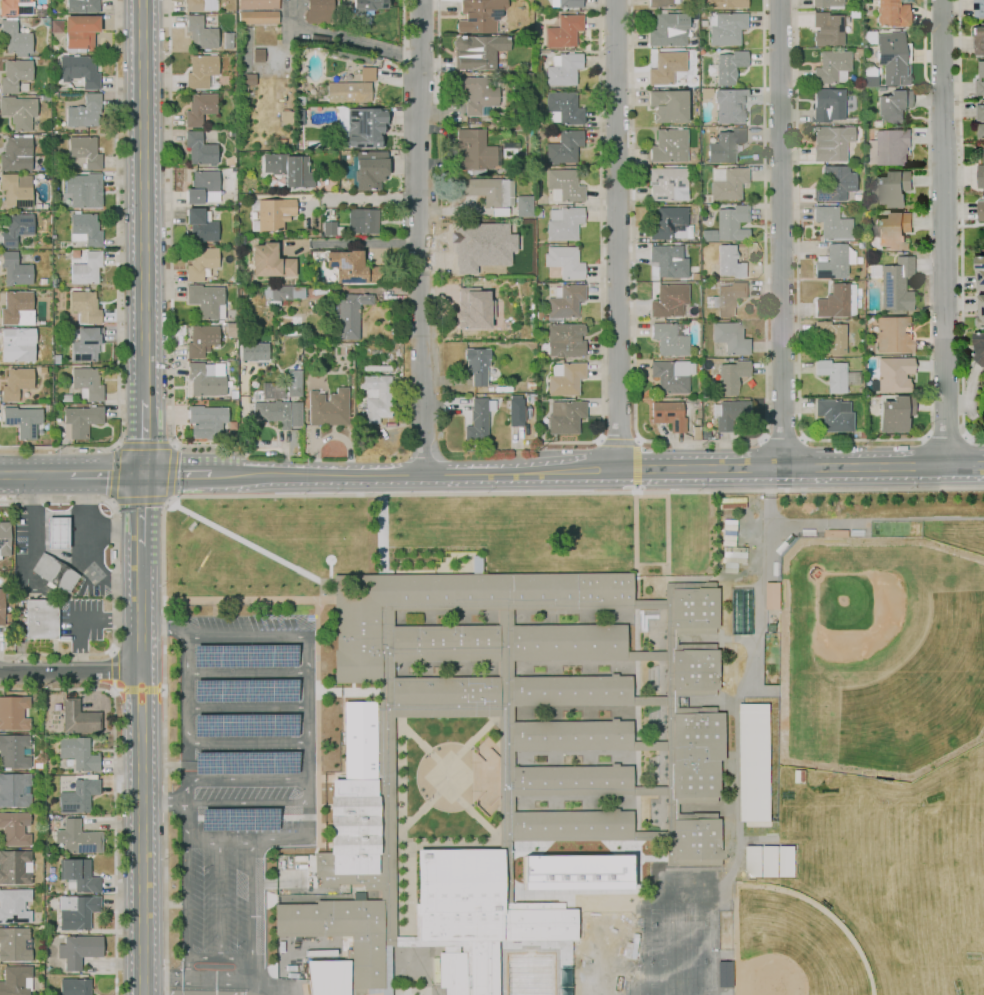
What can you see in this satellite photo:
building: (565, 3)
building: (659, 3)
building: (828, 3)
building: (726, 4)
building: (200, 5)
building: (367, 5)
building: (82, 6)
building: (15, 7)
building: (978, 8)
building: (318, 11)
building: (257, 12)
building: (40, 13)
building: (891, 13)
building: (479, 15)
building: (702, 15)
building: (44, 21)
building: (702, 24)
building: (56, 26)
road: (403, 27)
building: (725, 28)
building: (827, 29)
building: (668, 30)
building: (563, 31)
building: (79, 32)
building: (200, 33)
road: (438, 35)
building: (14, 38)
road: (343, 39)
building: (979, 40)
building: (227, 41)
building: (477, 51)
building: (257, 55)
building: (892, 58)
building: (728, 66)
building: (666, 67)
building: (831, 67)
building: (563, 69)
building: (81, 70)
building: (201, 72)
building: (367, 74)
building: (14, 75)
building: (526, 78)
building: (868, 78)
building: (980, 81)
building: (298, 84)
building: (23, 87)
building: (882, 89)
building: (348, 92)
building: (58, 93)
building: (705, 93)
building: (477, 95)
building: (43, 97)
building: (299, 100)
building: (668, 105)
building: (731, 105)
building: (828, 105)
building: (893, 106)
building: (199, 108)
building: (562, 108)
building: (18, 111)
building: (85, 111)
building: (980, 113)
building: (298, 117)
building: (285, 118)
building: (365, 127)
building: (980, 131)
building: (278, 143)
building: (831, 143)
building: (509, 145)
building: (725, 145)
building: (668, 146)
building: (564, 147)
building: (889, 147)
building: (199, 149)
building: (84, 151)
building: (474, 152)
building: (16, 153)
building: (60, 165)
building: (289, 169)
building: (367, 170)
building: (255, 176)
building: (980, 176)
building: (727, 183)
building: (667, 184)
building: (834, 184)
building: (563, 185)
building: (81, 188)
building: (203, 188)
building: (892, 189)
building: (16, 190)
building: (490, 193)
road: (357, 199)
road: (143, 200)
building: (523, 206)
building: (981, 211)
building: (272, 213)
building: (537, 214)
building: (362, 221)
building: (831, 222)
building: (563, 223)
building: (731, 223)
building: (670, 224)
building: (200, 225)
building: (329, 228)
road: (960, 228)
building: (15, 229)
building: (85, 229)
building: (892, 230)
road: (943, 232)
road: (783, 233)
road: (616, 234)
building: (707, 235)
building: (53, 237)
road: (418, 237)
building: (855, 238)
road: (359, 242)
building: (477, 244)
road: (600, 251)
road: (171, 252)
building: (77, 258)
building: (668, 261)
building: (732, 261)
building: (200, 262)
building: (269, 262)
building: (564, 262)
building: (834, 262)
building: (351, 267)
building: (14, 269)
building: (86, 269)
building: (873, 271)
building: (979, 272)
building: (693, 276)
building: (244, 277)
building: (42, 281)
building: (54, 281)
road: (116, 282)
building: (277, 282)
building: (896, 284)
building: (283, 292)
building: (244, 295)
building: (727, 298)
building: (206, 300)
building: (668, 300)
building: (564, 301)
building: (833, 302)
building: (53, 303)
building: (85, 306)
building: (16, 309)
building: (478, 312)
building: (980, 313)
building: (538, 315)
building: (346, 316)
building: (544, 318)
building: (263, 335)
building: (893, 335)
building: (833, 336)
building: (730, 337)
building: (668, 338)
building: (201, 340)
building: (565, 340)
building: (86, 344)
building: (356, 345)
building: (16, 346)
building: (363, 346)
building: (979, 347)
building: (346, 350)
building: (253, 351)
building: (696, 351)
building: (379, 365)
building: (477, 365)
building: (35, 367)
building: (672, 375)
building: (892, 375)
building: (731, 376)
building: (835, 376)
building: (205, 378)
building: (565, 378)
building: (15, 383)
building: (86, 383)
building: (294, 383)
building: (233, 393)
road: (970, 395)
building: (375, 397)
building: (65, 398)
building: (531, 398)
building: (328, 407)
building: (515, 412)
building: (271, 413)
building: (731, 414)
building: (894, 414)
building: (668, 415)
building: (834, 415)
building: (564, 417)
building: (478, 419)
building: (80, 420)
building: (23, 421)
building: (207, 421)
building: (695, 432)
building: (861, 434)
building: (705, 435)
road: (783, 436)
road: (145, 437)
road: (945, 437)
road: (618, 438)
traffic signals: (145, 439)
road: (864, 439)
road: (699, 441)
road: (145, 445)
building: (489, 445)
road: (636, 464)
road: (800, 466)
road: (114, 473)
road: (34, 474)
road: (105, 474)
traffic signals: (111, 474)
road: (174, 474)
road: (175, 474)
traffic signals: (179, 474)
road: (412, 474)
road: (766, 479)
road: (328, 494)
road: (140, 500)
building: (732, 503)
road: (767, 505)
traffic signals: (140, 507)
road: (140, 510)
road: (68, 514)
road: (875, 518)
road: (115, 526)
building: (58, 532)
road: (382, 534)
building: (4, 538)
road: (251, 544)
road: (82, 547)
flagpole: (330, 560)
road: (651, 562)
building: (54, 572)
building: (773, 595)
road: (248, 598)
road: (651, 603)
building: (1, 605)
building: (696, 608)
building: (743, 611)
road: (511, 616)
building: (42, 618)
building: (357, 629)
road: (222, 636)
building: (567, 642)
building: (444, 643)
road: (651, 654)
road: (49, 655)
park: (897, 667)
road: (511, 668)
road: (111, 670)
building: (696, 670)
road: (70, 672)
road: (246, 672)
road: (636, 677)
road: (667, 678)
road: (185, 689)
road: (351, 689)
road: (138, 690)
building: (570, 690)
building: (444, 693)
road: (652, 699)
road: (703, 701)
road: (247, 707)
road: (739, 708)
road: (445, 711)
building: (13, 712)
road: (571, 713)
building: (78, 718)
road: (317, 727)
parking lot: (240, 728)
road: (505, 728)
road: (478, 733)
building: (570, 735)
road: (308, 737)
road: (416, 738)
road: (247, 743)
road: (652, 744)
building: (13, 751)
building: (77, 753)
building: (698, 754)
road: (386, 755)
building: (507, 756)
road: (571, 758)
building: (756, 762)
road: (141, 771)
road: (491, 775)
road: (247, 778)
building: (571, 780)
road: (114, 787)
building: (14, 789)
road: (652, 789)
road: (187, 791)
road: (505, 793)
building: (78, 795)
building: (355, 796)
road: (571, 802)
road: (248, 803)
road: (164, 804)
road: (474, 806)
road: (704, 808)
road: (417, 814)
road: (479, 819)
building: (571, 825)
building: (13, 828)
road: (653, 835)
building: (77, 838)
building: (697, 839)
road: (248, 840)
road: (503, 844)
road: (512, 844)
road: (407, 845)
building: (754, 861)
building: (778, 861)
road: (656, 864)
building: (14, 866)
building: (575, 871)
building: (78, 876)
road: (187, 890)
road: (320, 894)
road: (219, 898)
parking lot: (220, 898)
building: (13, 905)
building: (477, 910)
building: (78, 912)
road: (253, 914)
park: (680, 924)
building: (366, 942)
building: (14, 943)
park: (793, 946)
building: (78, 950)
road: (220, 957)
park: (613, 962)
park: (680, 962)
building: (451, 973)
road: (198, 978)
building: (15, 980)
building: (74, 987)
park: (680, 988)
park: (613, 989)
road: (248, 991)
road: (256, 991)
road: (269, 991)
road: (154, 992)

